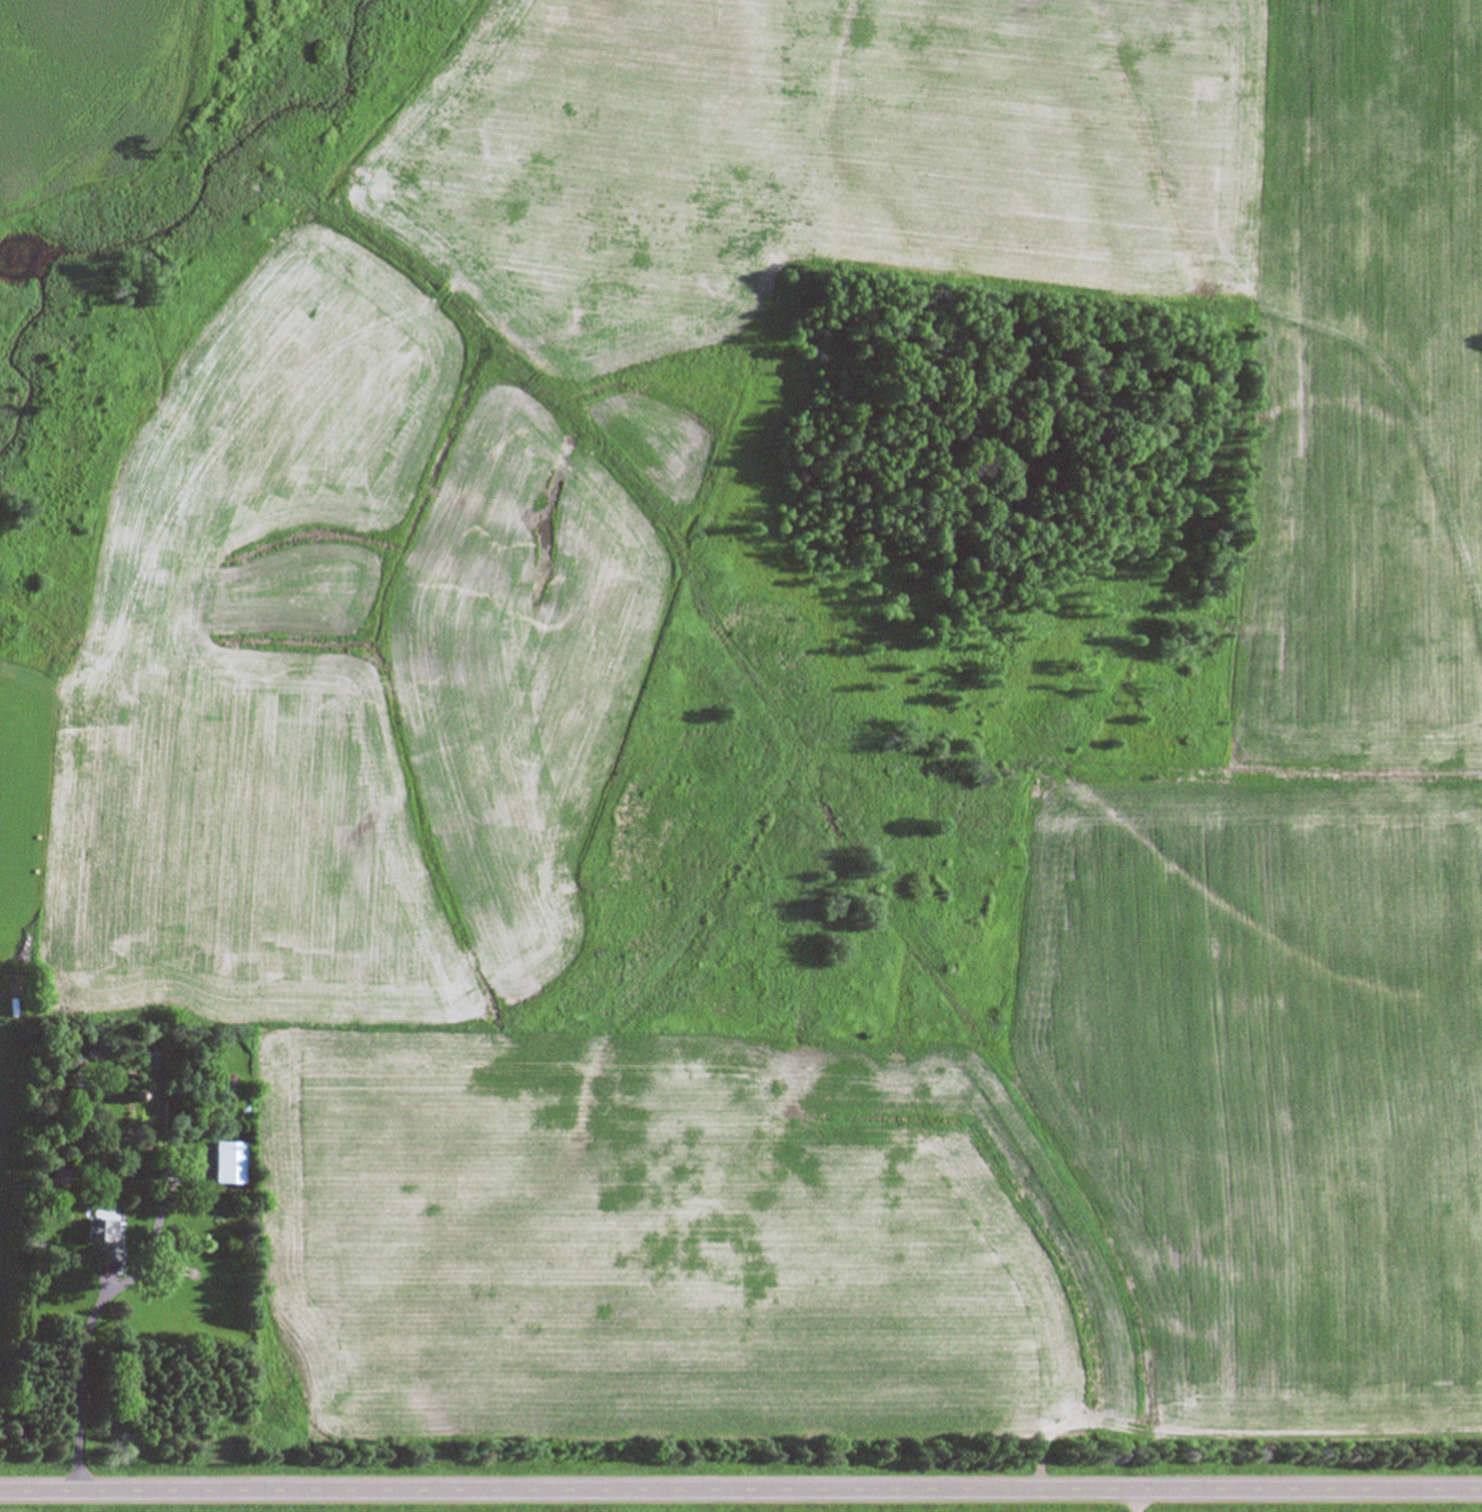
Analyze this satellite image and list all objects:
building: (136, 1144)
building: (227, 1164)
building: (94, 1233)
road: (740, 1494)

